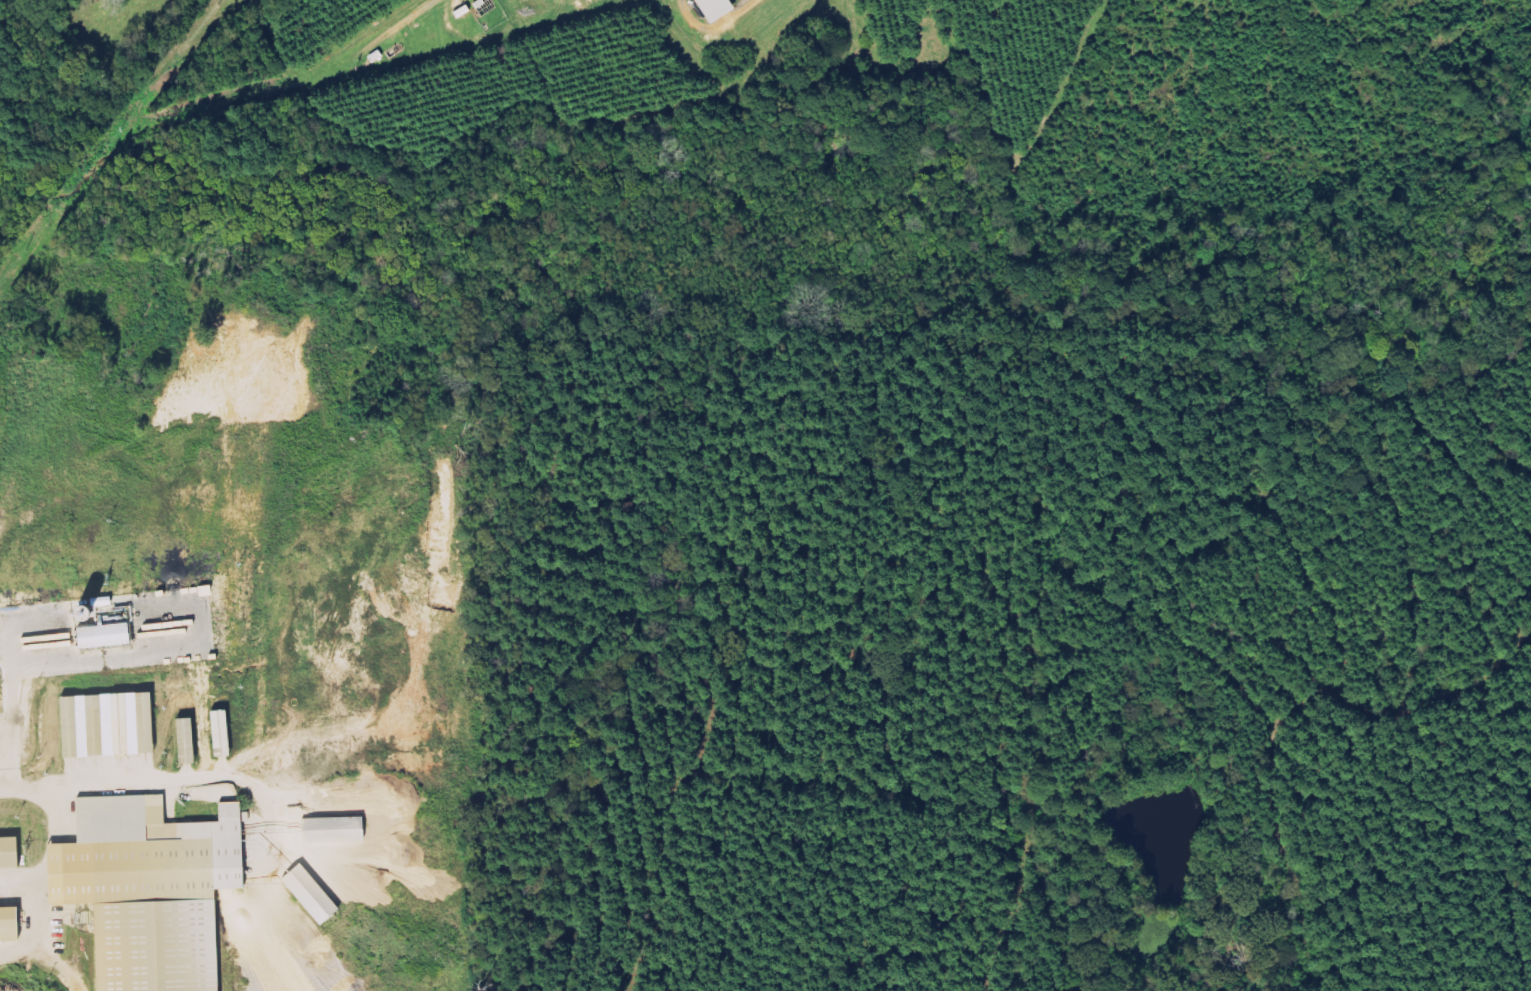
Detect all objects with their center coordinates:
building: (712, 9)
building: (112, 636)
building: (114, 725)
building: (228, 734)
building: (193, 741)
building: (340, 830)
road: (46, 849)
building: (12, 853)
building: (317, 895)
building: (13, 925)

